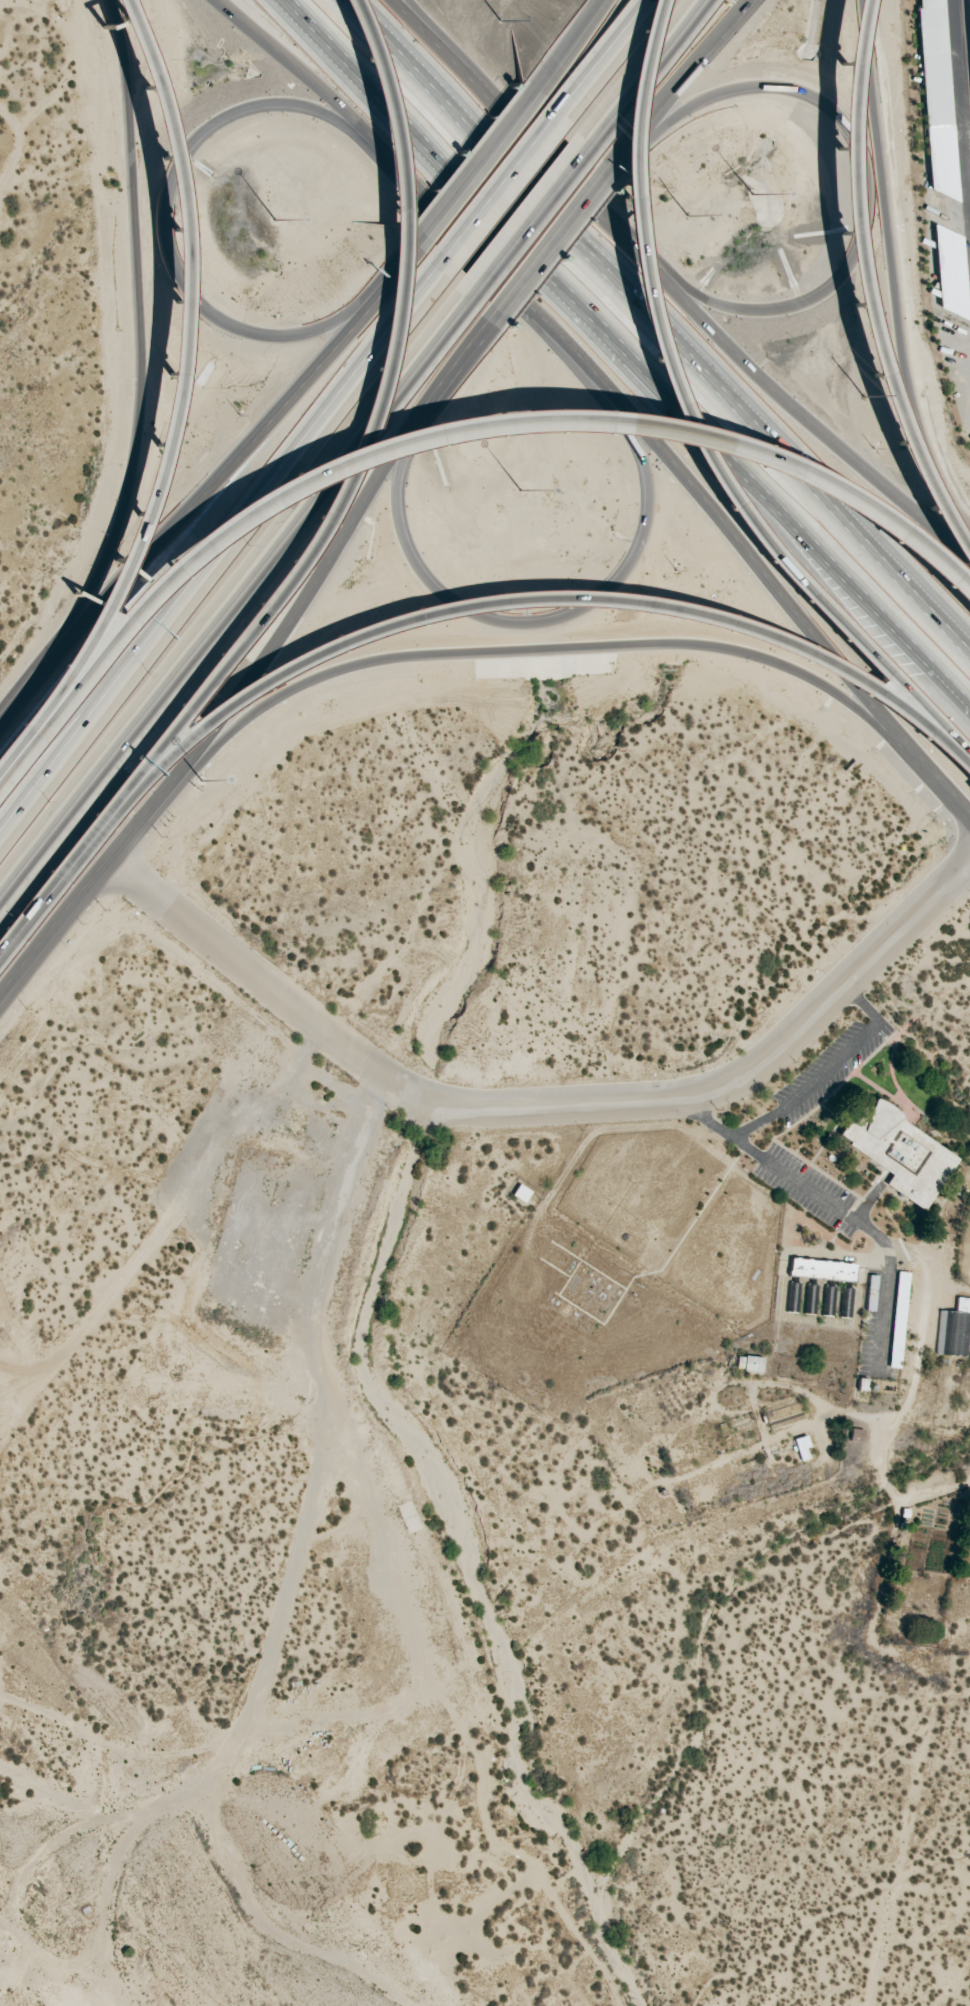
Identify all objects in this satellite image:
building: (969, 3)
road: (437, 36)
road: (568, 39)
road: (571, 39)
road: (596, 61)
road: (682, 77)
road: (642, 78)
road: (534, 88)
road: (460, 92)
building: (936, 97)
road: (524, 137)
road: (608, 164)
road: (474, 166)
road: (862, 171)
road: (496, 189)
road: (530, 222)
road: (161, 223)
road: (418, 241)
road: (547, 241)
building: (949, 271)
road: (891, 275)
road: (851, 299)
road: (660, 323)
road: (460, 355)
road: (627, 356)
road: (141, 364)
road: (173, 382)
road: (611, 393)
road: (807, 418)
road: (441, 429)
road: (685, 430)
road: (367, 433)
building: (969, 439)
road: (218, 479)
road: (222, 542)
road: (238, 593)
road: (304, 593)
road: (538, 597)
road: (580, 605)
road: (861, 633)
road: (550, 648)
road: (6, 706)
road: (62, 732)
road: (60, 874)
road: (85, 886)
road: (862, 1003)
road: (826, 1069)
road: (543, 1105)
road: (729, 1132)
building: (906, 1155)
building: (521, 1193)
building: (822, 1269)
building: (871, 1293)
building: (898, 1319)
building: (954, 1329)
building: (749, 1363)
building: (802, 1447)

